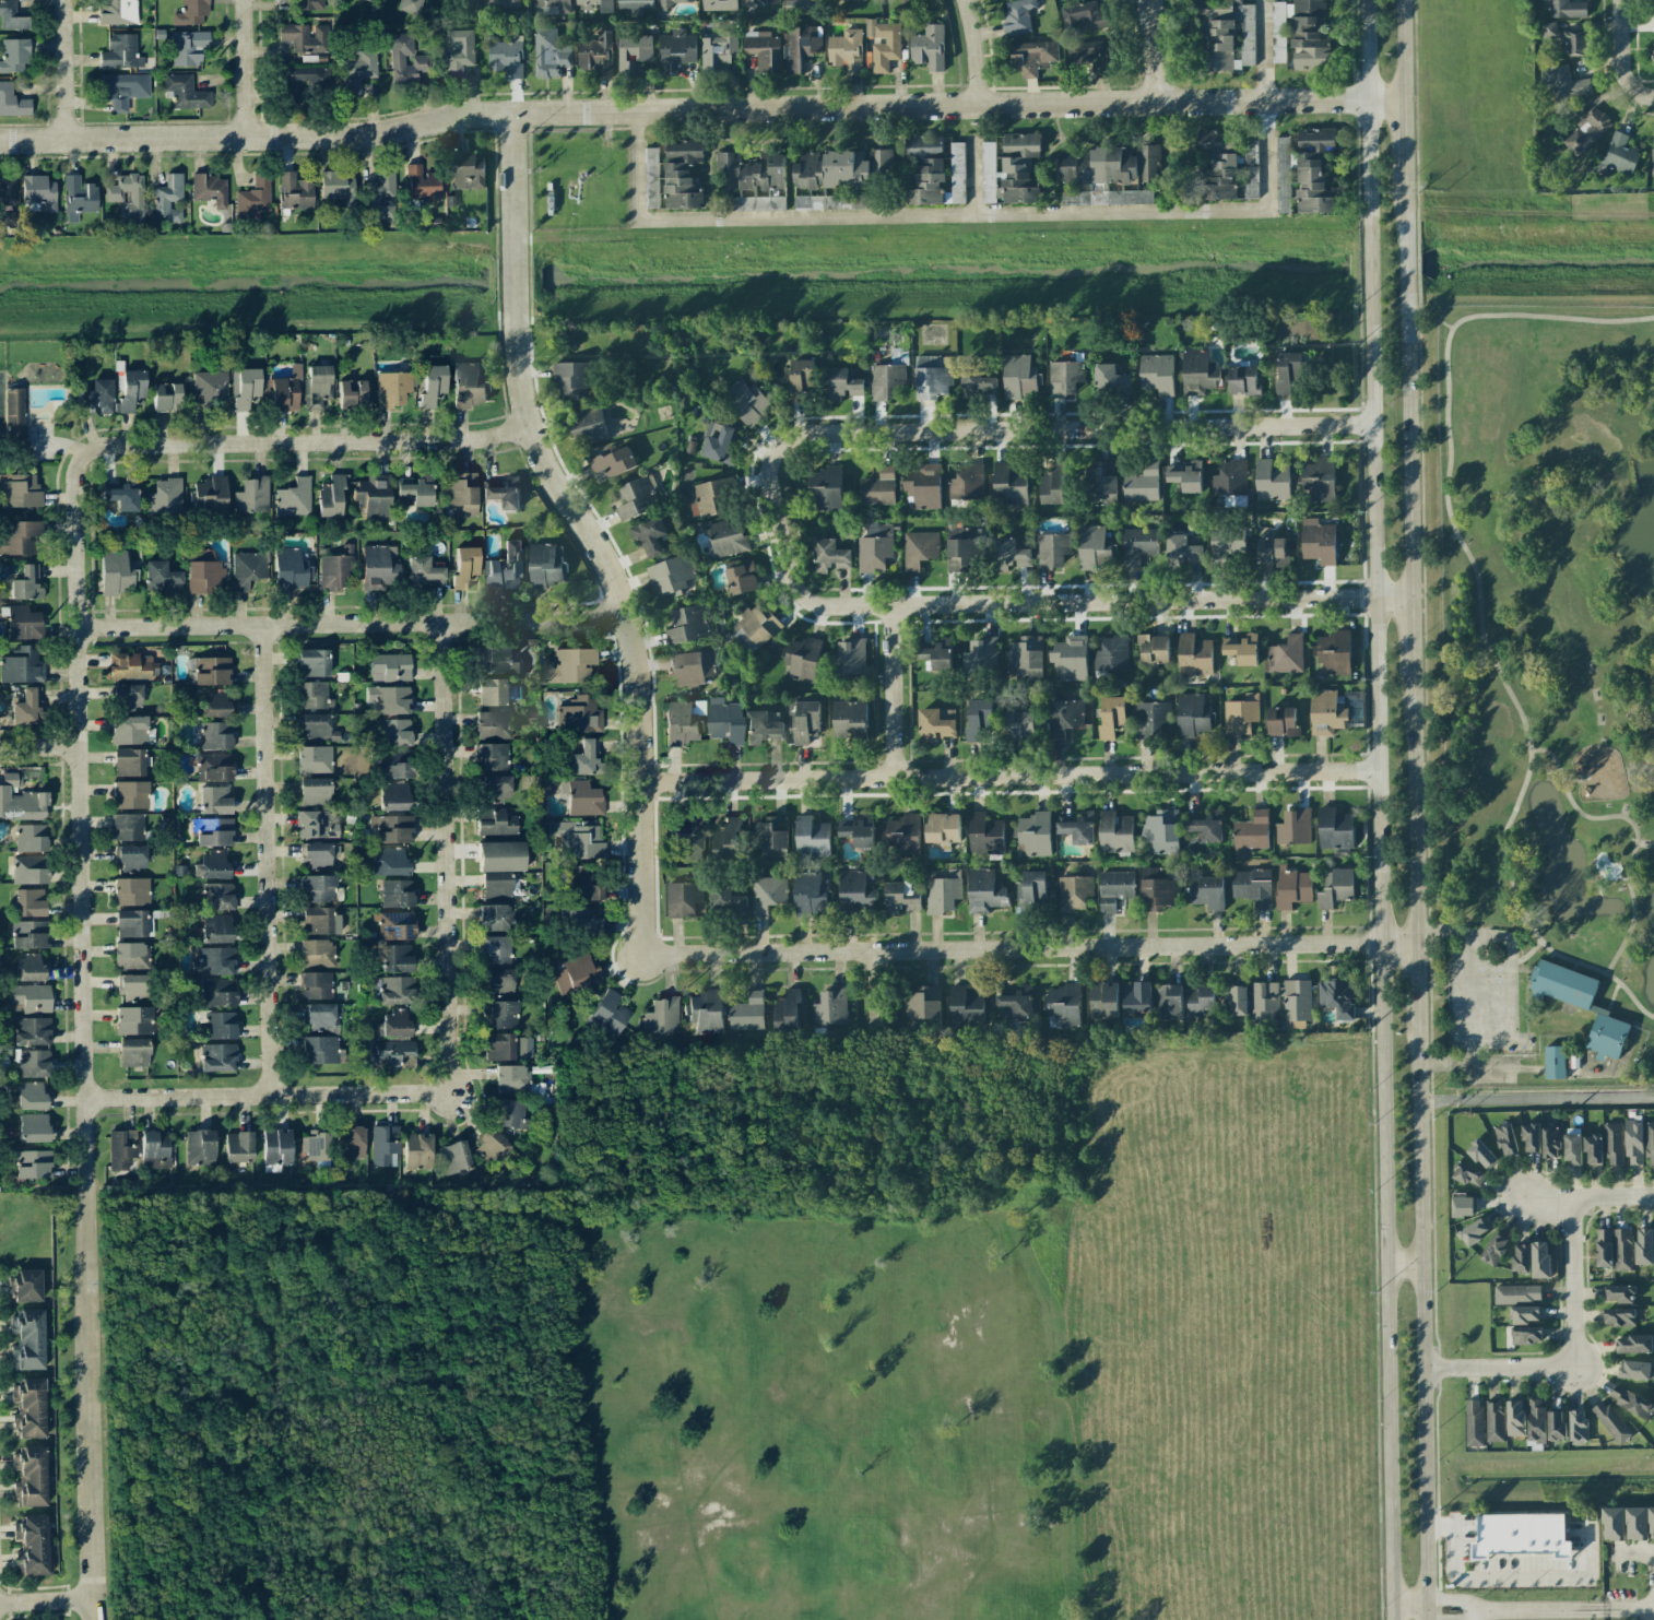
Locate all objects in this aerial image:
building: (369, 0)
building: (902, 1)
building: (759, 2)
building: (501, 3)
building: (669, 3)
building: (308, 4)
building: (556, 4)
building: (635, 4)
building: (718, 4)
building: (803, 4)
building: (582, 5)
building: (1651, 5)
building: (410, 7)
building: (1567, 9)
building: (118, 12)
building: (190, 12)
building: (1017, 15)
building: (11, 16)
building: (1083, 16)
building: (1300, 34)
building: (1227, 35)
building: (304, 38)
building: (1566, 38)
building: (884, 44)
building: (800, 45)
building: (188, 47)
building: (929, 47)
building: (634, 49)
building: (763, 49)
building: (676, 50)
building: (718, 50)
building: (846, 50)
road: (1157, 50)
road: (1399, 50)
road: (1622, 51)
building: (1653, 51)
building: (120, 52)
building: (459, 52)
road: (974, 52)
building: (14, 55)
building: (548, 55)
building: (596, 55)
building: (1032, 56)
building: (1090, 56)
building: (506, 58)
building: (405, 59)
road: (246, 68)
road: (66, 69)
building: (357, 70)
building: (304, 79)
building: (1567, 83)
building: (122, 90)
building: (185, 92)
road: (1650, 93)
building: (12, 102)
road: (698, 109)
road: (1363, 111)
building: (1585, 128)
road: (1401, 140)
building: (684, 150)
building: (1619, 155)
building: (1652, 162)
building: (1228, 164)
building: (1109, 165)
building: (839, 168)
building: (466, 170)
building: (752, 170)
building: (934, 170)
building: (1011, 170)
building: (1304, 173)
building: (651, 178)
road: (980, 179)
building: (421, 184)
building: (336, 187)
building: (680, 187)
building: (209, 189)
building: (294, 191)
building: (7, 192)
building: (38, 193)
building: (1135, 197)
building: (78, 198)
building: (128, 198)
building: (252, 198)
building: (167, 199)
road: (1402, 200)
building: (831, 202)
road: (1003, 213)
road: (1404, 262)
road: (1366, 263)
road: (1428, 317)
building: (1288, 371)
building: (1198, 373)
building: (1157, 374)
building: (932, 377)
building: (1020, 377)
building: (1064, 377)
building: (800, 378)
building: (1110, 378)
building: (977, 379)
building: (570, 380)
building: (1243, 380)
building: (886, 381)
building: (434, 382)
building: (843, 383)
building: (469, 385)
building: (317, 387)
building: (208, 388)
building: (247, 388)
building: (392, 389)
building: (130, 390)
building: (286, 391)
building: (352, 392)
building: (96, 395)
building: (166, 397)
building: (746, 402)
building: (13, 414)
building: (588, 424)
road: (1083, 427)
road: (304, 441)
building: (720, 444)
road: (1406, 451)
building: (614, 462)
building: (1185, 476)
building: (1229, 478)
building: (967, 481)
building: (1272, 481)
building: (1319, 481)
building: (1103, 482)
building: (1142, 483)
building: (1053, 484)
building: (923, 485)
building: (1008, 485)
building: (878, 487)
building: (416, 488)
building: (826, 488)
building: (20, 490)
building: (209, 493)
building: (503, 493)
building: (460, 494)
building: (251, 495)
building: (374, 495)
building: (330, 496)
building: (165, 497)
building: (711, 497)
building: (121, 498)
building: (294, 498)
building: (636, 498)
road: (584, 529)
building: (872, 531)
building: (648, 535)
building: (19, 537)
building: (726, 537)
building: (1318, 541)
building: (1138, 544)
building: (1220, 545)
building: (1095, 547)
building: (919, 548)
building: (961, 548)
building: (1051, 549)
building: (1182, 549)
building: (874, 551)
building: (1272, 552)
building: (1011, 555)
building: (829, 556)
building: (545, 565)
building: (378, 567)
building: (464, 567)
building: (505, 567)
building: (248, 569)
building: (291, 569)
building: (335, 569)
building: (203, 571)
building: (116, 572)
building: (423, 572)
building: (671, 575)
building: (161, 577)
building: (741, 578)
building: (26, 583)
road: (1016, 603)
road: (1477, 611)
building: (23, 623)
building: (687, 624)
road: (352, 625)
building: (754, 627)
road: (1409, 638)
building: (1154, 648)
building: (1242, 649)
building: (978, 650)
building: (1334, 652)
building: (935, 653)
building: (1111, 653)
building: (1194, 654)
building: (1286, 654)
building: (803, 658)
building: (849, 658)
building: (1024, 659)
building: (1068, 659)
building: (496, 661)
building: (312, 662)
building: (571, 665)
building: (22, 666)
building: (132, 666)
building: (390, 666)
building: (692, 667)
building: (211, 671)
building: (493, 691)
road: (895, 691)
park: (1547, 693)
building: (127, 696)
building: (312, 696)
building: (389, 699)
building: (215, 703)
building: (26, 707)
building: (1326, 713)
building: (1192, 714)
building: (579, 716)
building: (1064, 716)
building: (1111, 716)
building: (1240, 716)
building: (1151, 719)
building: (802, 720)
building: (979, 720)
building: (724, 721)
building: (850, 721)
building: (1281, 722)
building: (493, 724)
building: (934, 725)
building: (1019, 725)
building: (317, 728)
building: (761, 728)
building: (130, 731)
building: (395, 732)
building: (215, 735)
road: (40, 747)
building: (491, 756)
building: (314, 759)
building: (587, 759)
building: (128, 761)
building: (392, 766)
building: (213, 767)
road: (1009, 777)
road: (1572, 782)
building: (495, 788)
building: (315, 791)
building: (130, 794)
building: (394, 795)
building: (583, 799)
building: (20, 800)
building: (214, 800)
road: (1411, 809)
road: (83, 820)
building: (495, 821)
building: (316, 825)
building: (1207, 826)
building: (126, 827)
building: (1293, 827)
building: (392, 828)
building: (1078, 828)
building: (942, 829)
building: (858, 830)
building: (213, 831)
building: (1161, 831)
building: (1335, 831)
road: (1633, 831)
building: (1115, 832)
building: (1251, 832)
building: (1035, 833)
building: (903, 835)
building: (985, 835)
building: (726, 836)
building: (771, 837)
building: (812, 837)
building: (31, 838)
building: (692, 838)
building: (578, 839)
building: (317, 853)
building: (130, 856)
building: (500, 856)
road: (449, 858)
road: (269, 860)
building: (390, 861)
building: (212, 865)
building: (28, 870)
building: (495, 885)
building: (584, 885)
building: (1252, 887)
building: (1292, 887)
building: (1336, 887)
building: (317, 888)
building: (1031, 888)
building: (1114, 888)
building: (984, 889)
building: (1156, 889)
building: (1205, 890)
building: (131, 891)
building: (856, 892)
building: (943, 892)
building: (1073, 892)
building: (398, 894)
building: (767, 894)
building: (811, 894)
building: (217, 896)
building: (726, 898)
building: (900, 898)
building: (684, 899)
building: (28, 902)
building: (494, 918)
building: (580, 920)
building: (317, 921)
building: (131, 923)
building: (395, 925)
building: (217, 929)
building: (28, 934)
road: (1027, 947)
building: (495, 949)
building: (317, 953)
road: (1525, 955)
building: (130, 956)
building: (394, 959)
building: (214, 961)
road: (1379, 961)
building: (28, 967)
road: (1519, 971)
building: (577, 974)
building: (499, 980)
road: (1415, 981)
building: (132, 985)
building: (315, 985)
building: (395, 990)
building: (216, 992)
road: (875, 992)
building: (1339, 996)
building: (29, 997)
building: (1136, 997)
road: (1610, 998)
building: (1103, 1000)
building: (1296, 1000)
building: (1168, 1001)
building: (1233, 1001)
road: (1467, 1001)
building: (1201, 1002)
building: (1264, 1002)
road: (1509, 1002)
road: (1523, 1002)
building: (1016, 1003)
building: (1580, 1004)
building: (1064, 1005)
building: (921, 1006)
building: (829, 1007)
building: (966, 1007)
building: (785, 1010)
building: (705, 1012)
building: (610, 1013)
building: (746, 1013)
building: (499, 1014)
building: (662, 1016)
building: (322, 1018)
building: (133, 1020)
building: (395, 1024)
building: (220, 1025)
building: (31, 1031)
building: (499, 1047)
building: (523, 1048)
building: (320, 1050)
building: (133, 1052)
building: (390, 1052)
building: (216, 1057)
building: (1553, 1062)
building: (34, 1063)
road: (1525, 1069)
road: (263, 1095)
building: (32, 1096)
road: (1535, 1098)
building: (508, 1113)
building: (33, 1127)
building: (1531, 1137)
building: (1505, 1139)
building: (1550, 1142)
building: (1633, 1142)
building: (1650, 1142)
building: (350, 1143)
building: (1612, 1144)
building: (383, 1145)
building: (238, 1146)
building: (199, 1147)
building: (314, 1147)
building: (491, 1147)
building: (121, 1148)
building: (1593, 1148)
building: (154, 1149)
building: (275, 1149)
building: (1572, 1149)
building: (417, 1150)
building: (1481, 1154)
building: (454, 1157)
building: (32, 1163)
building: (1468, 1174)
road: (1587, 1198)
building: (1463, 1206)
building: (1473, 1231)
building: (1643, 1245)
building: (1603, 1247)
building: (1493, 1249)
building: (1622, 1250)
building: (1521, 1257)
building: (1539, 1258)
road: (1403, 1263)
road: (1572, 1284)
building: (26, 1286)
building: (1516, 1293)
building: (1618, 1293)
road: (1420, 1311)
building: (1525, 1314)
building: (1619, 1316)
building: (1526, 1335)
building: (27, 1339)
building: (1633, 1344)
road: (1499, 1370)
building: (1634, 1370)
building: (1631, 1402)
road: (91, 1405)
building: (28, 1408)
building: (1514, 1418)
building: (1493, 1420)
building: (1535, 1420)
building: (1610, 1421)
building: (1474, 1423)
building: (1556, 1426)
building: (1578, 1426)
building: (29, 1477)
building: (1637, 1523)
building: (1651, 1523)
building: (1612, 1524)
building: (1522, 1535)
building: (32, 1545)
road: (1638, 1556)
road: (1487, 1578)
road: (47, 1600)
road: (1408, 1603)
road: (1457, 1603)
road: (1427, 1609)
road: (1571, 1609)
road: (1408, 1617)
road: (1458, 1617)
road: (1427, 1618)
road: (1472, 1619)

